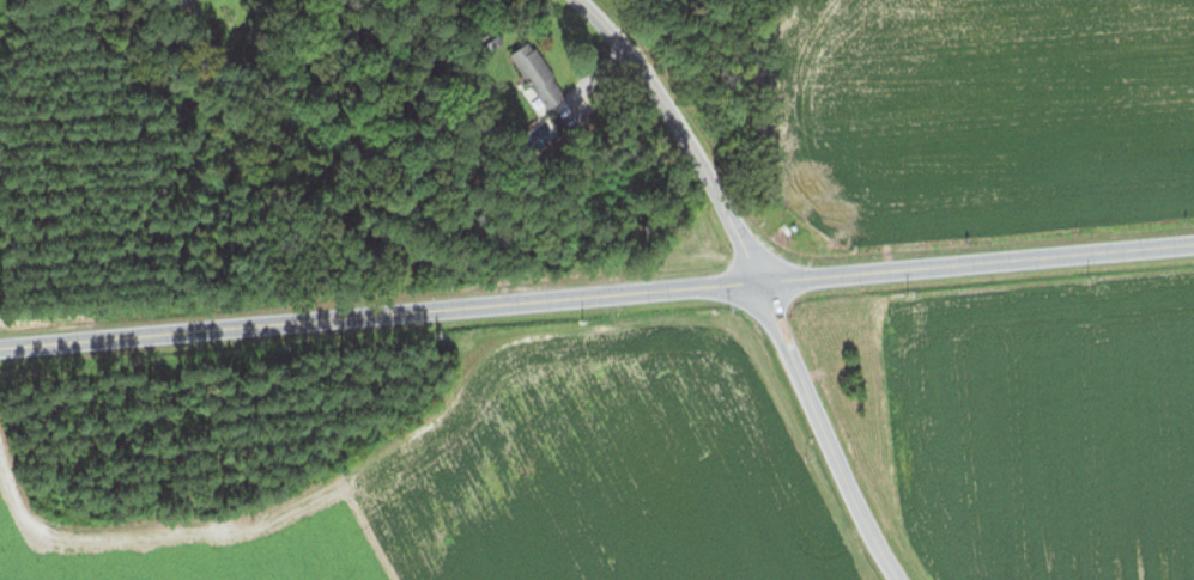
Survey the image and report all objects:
road: (669, 134)
road: (596, 295)
road: (824, 433)

